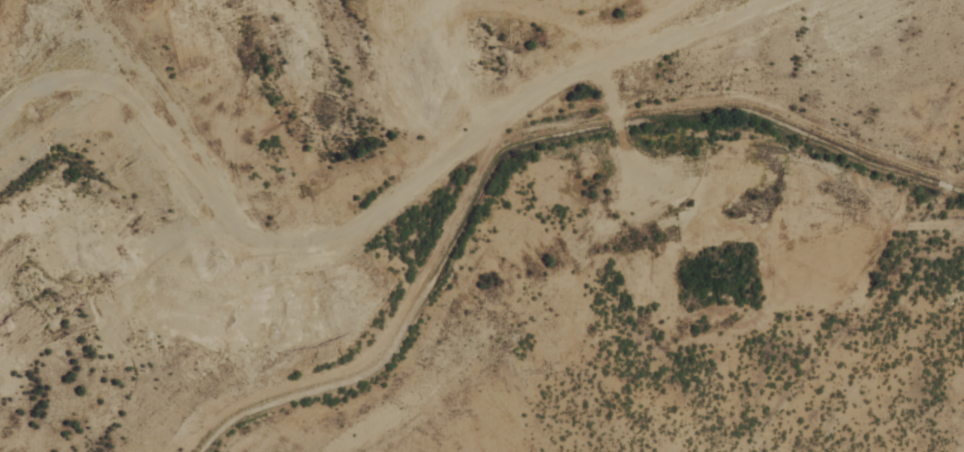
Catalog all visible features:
road: (195, 190)
road: (909, 224)

